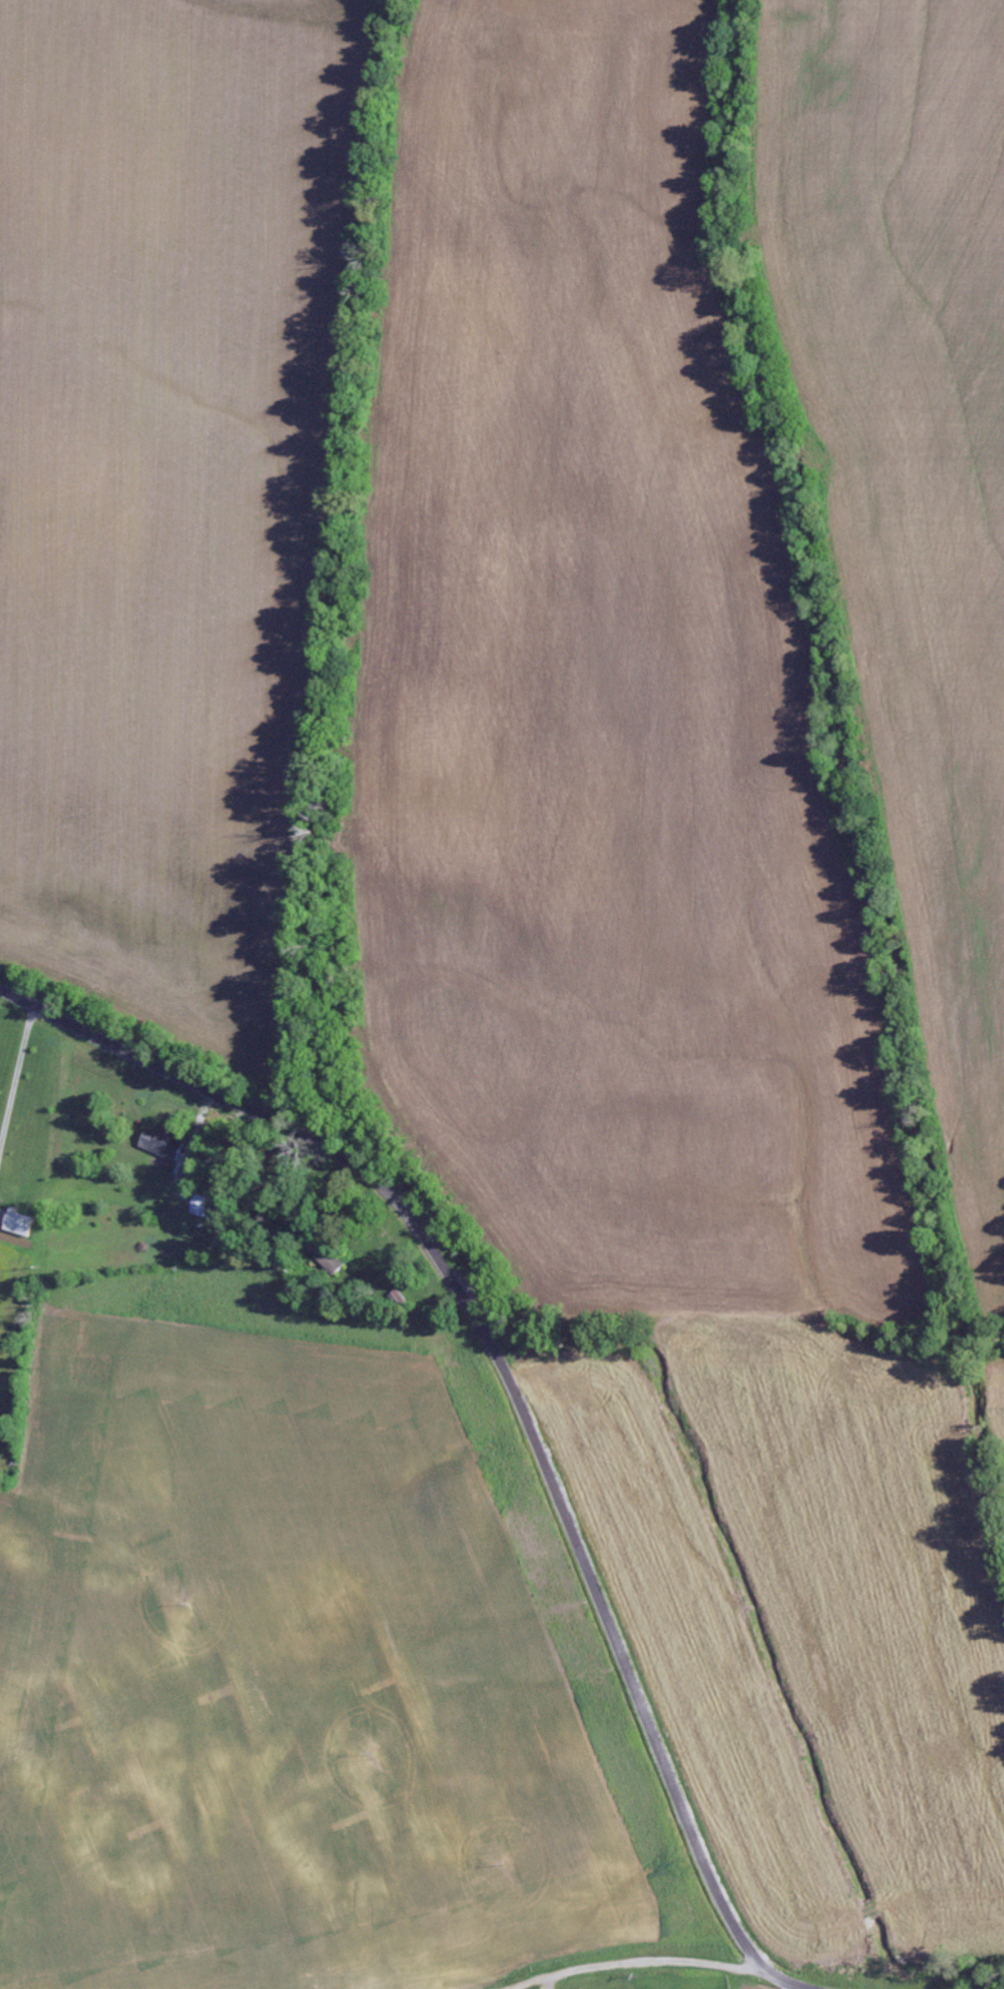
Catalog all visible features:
building: (167, 1143)
building: (211, 1208)
building: (26, 1224)
road: (516, 1394)
road: (529, 1947)

